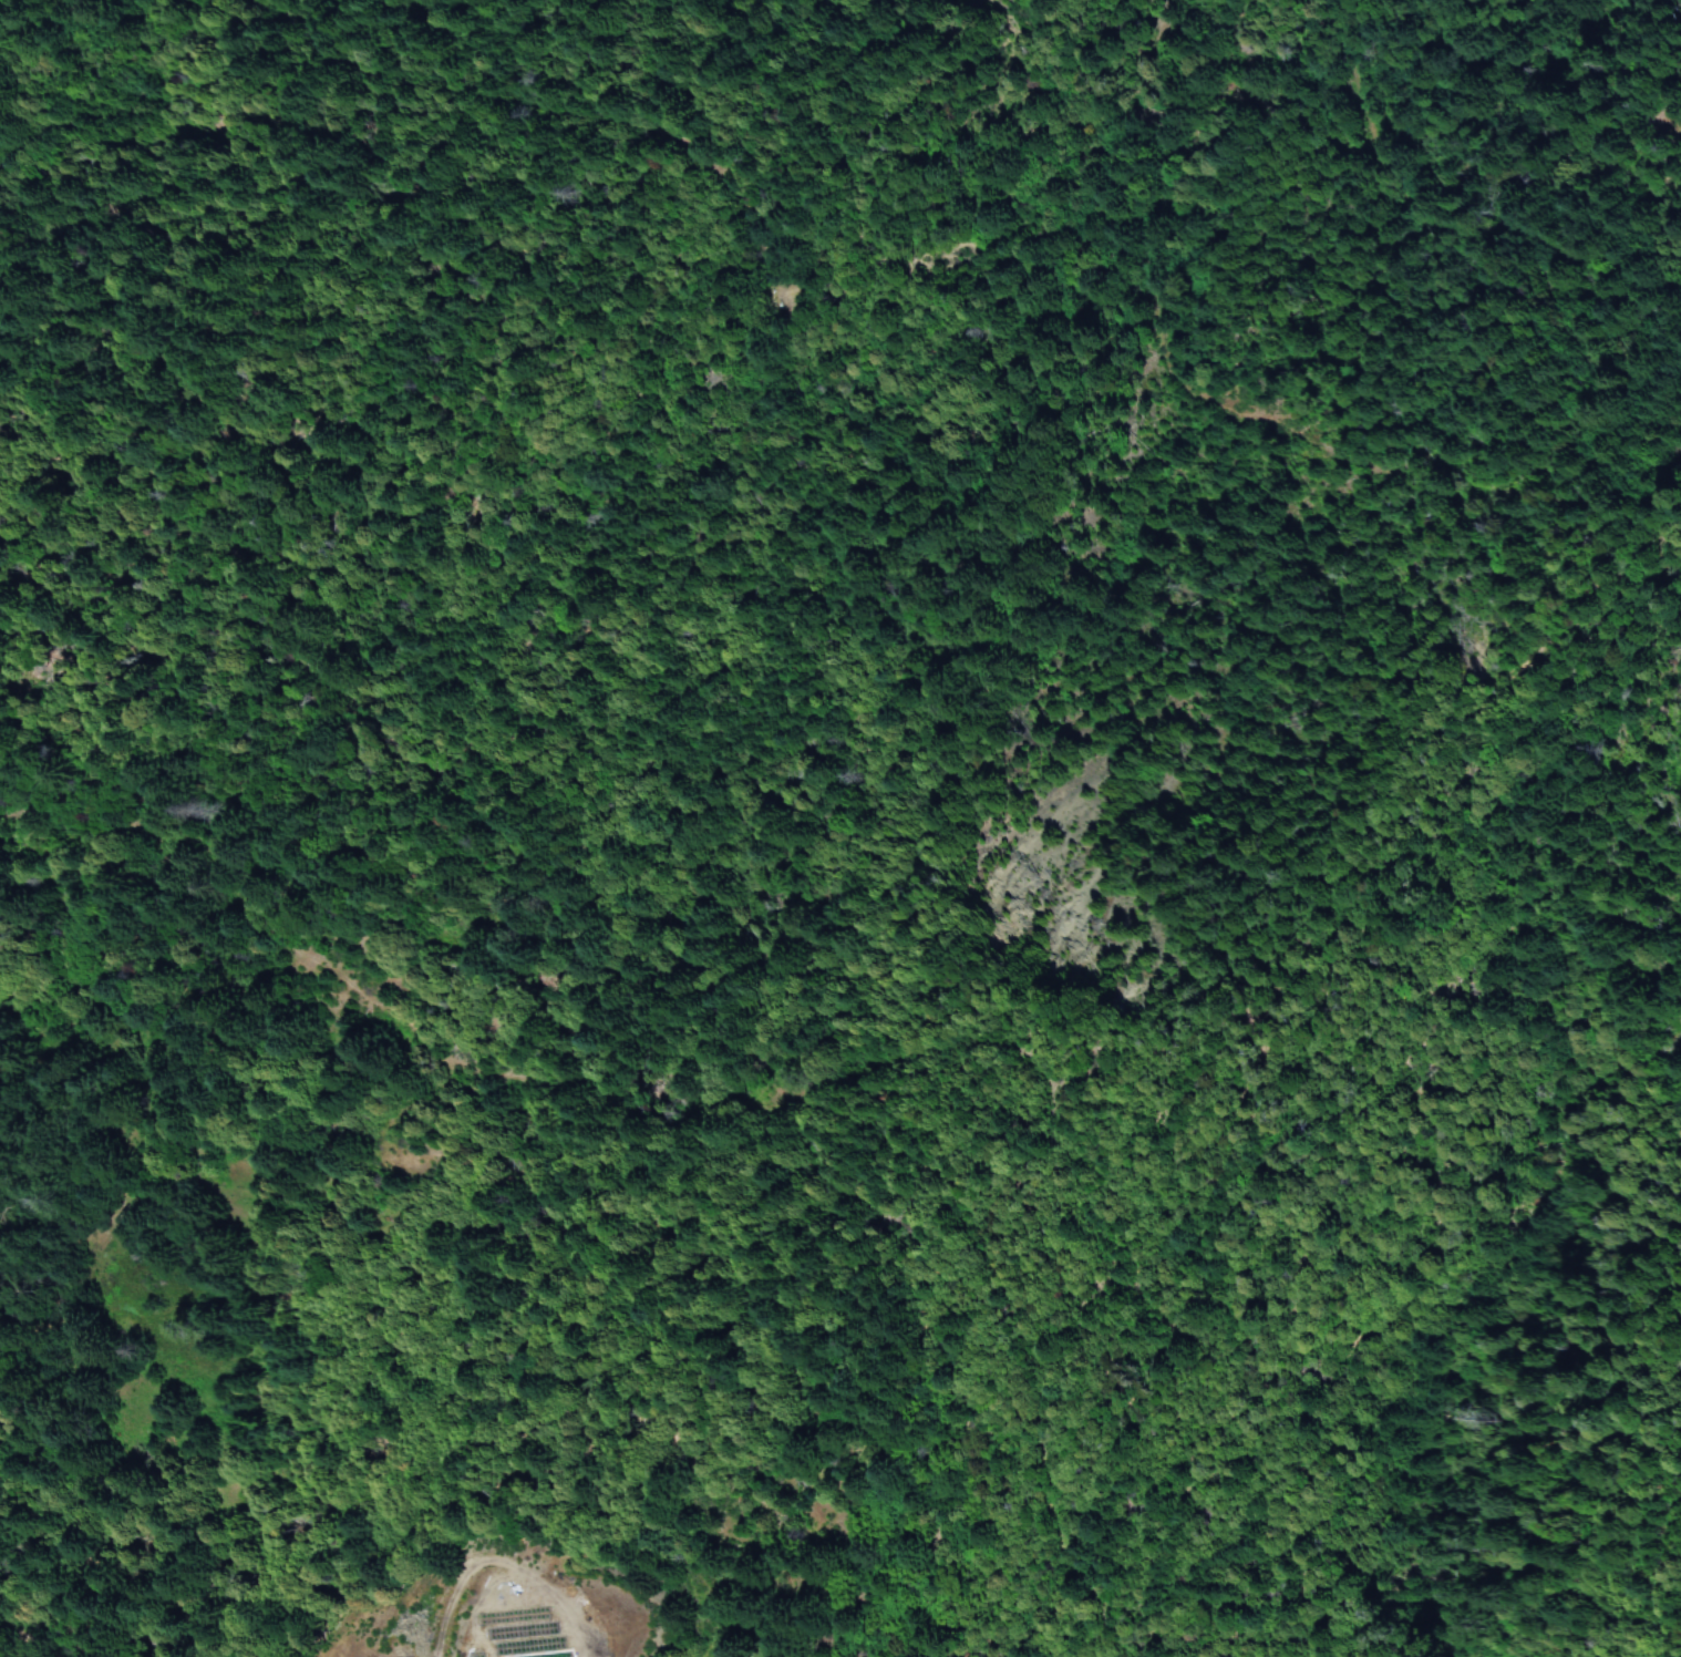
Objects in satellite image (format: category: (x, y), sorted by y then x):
road: (40, 1637)

